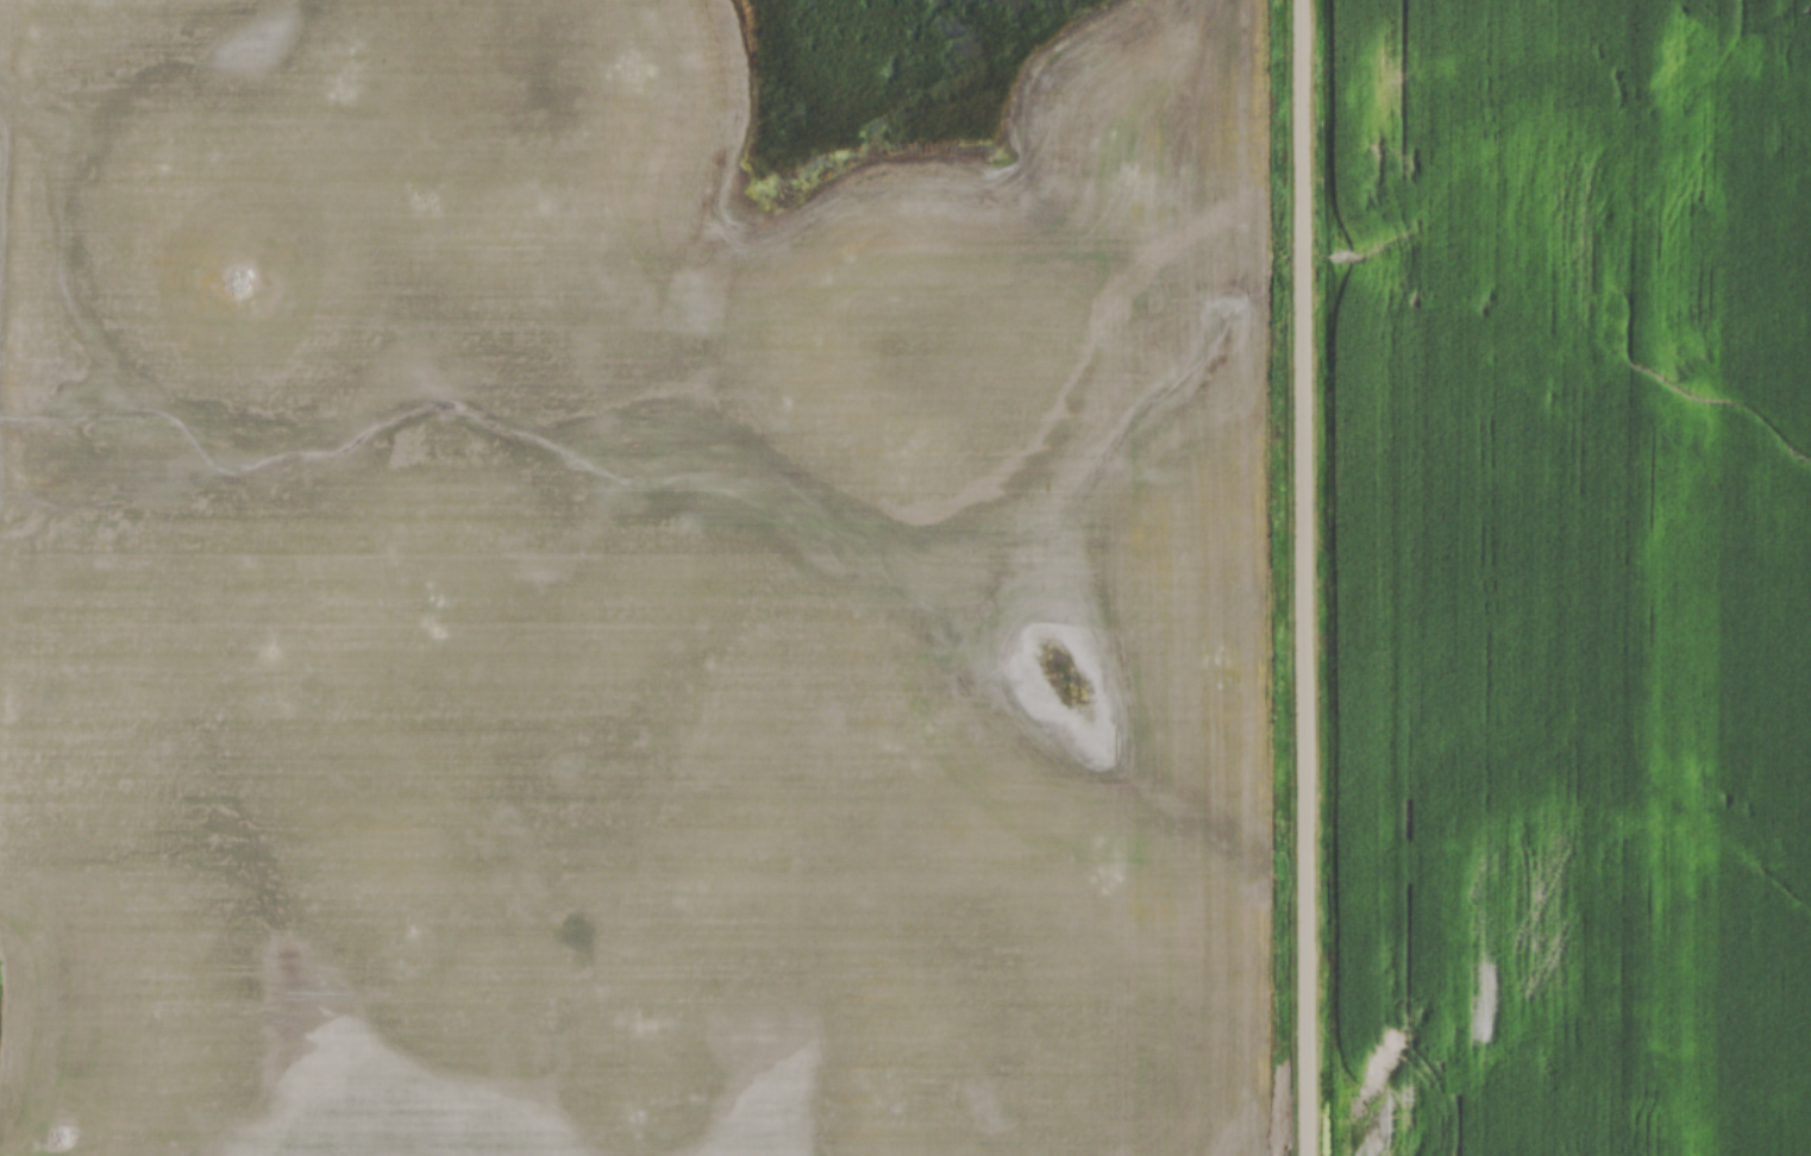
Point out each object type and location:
road: (1299, 578)

